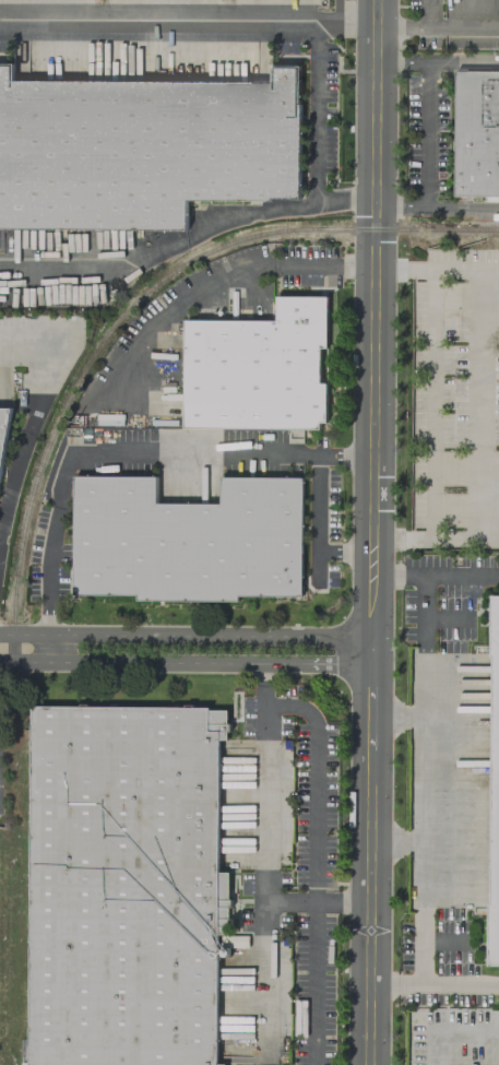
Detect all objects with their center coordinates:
road: (336, 12)
road: (168, 20)
road: (356, 24)
road: (413, 26)
road: (437, 62)
road: (316, 111)
building: (476, 132)
road: (426, 134)
building: (142, 147)
road: (345, 199)
road: (436, 206)
road: (250, 213)
railway: (461, 228)
road: (306, 264)
road: (357, 267)
road: (96, 269)
road: (372, 269)
road: (397, 269)
road: (490, 270)
road: (167, 309)
railway: (108, 339)
road: (51, 363)
building: (256, 368)
road: (482, 374)
road: (431, 404)
building: (3, 427)
road: (122, 452)
road: (12, 489)
road: (318, 529)
road: (396, 539)
road: (451, 539)
building: (187, 540)
road: (489, 540)
road: (372, 555)
road: (387, 572)
road: (412, 572)
road: (460, 572)
road: (447, 618)
road: (423, 638)
road: (132, 648)
road: (318, 649)
road: (264, 666)
road: (395, 715)
road: (312, 771)
road: (421, 778)
building: (494, 788)
road: (264, 807)
road: (370, 818)
road: (395, 840)
building: (124, 885)
road: (448, 898)
road: (420, 902)
road: (352, 903)
road: (444, 939)
road: (419, 945)
road: (263, 960)
road: (312, 974)
road: (382, 985)
road: (448, 985)
road: (448, 1029)

